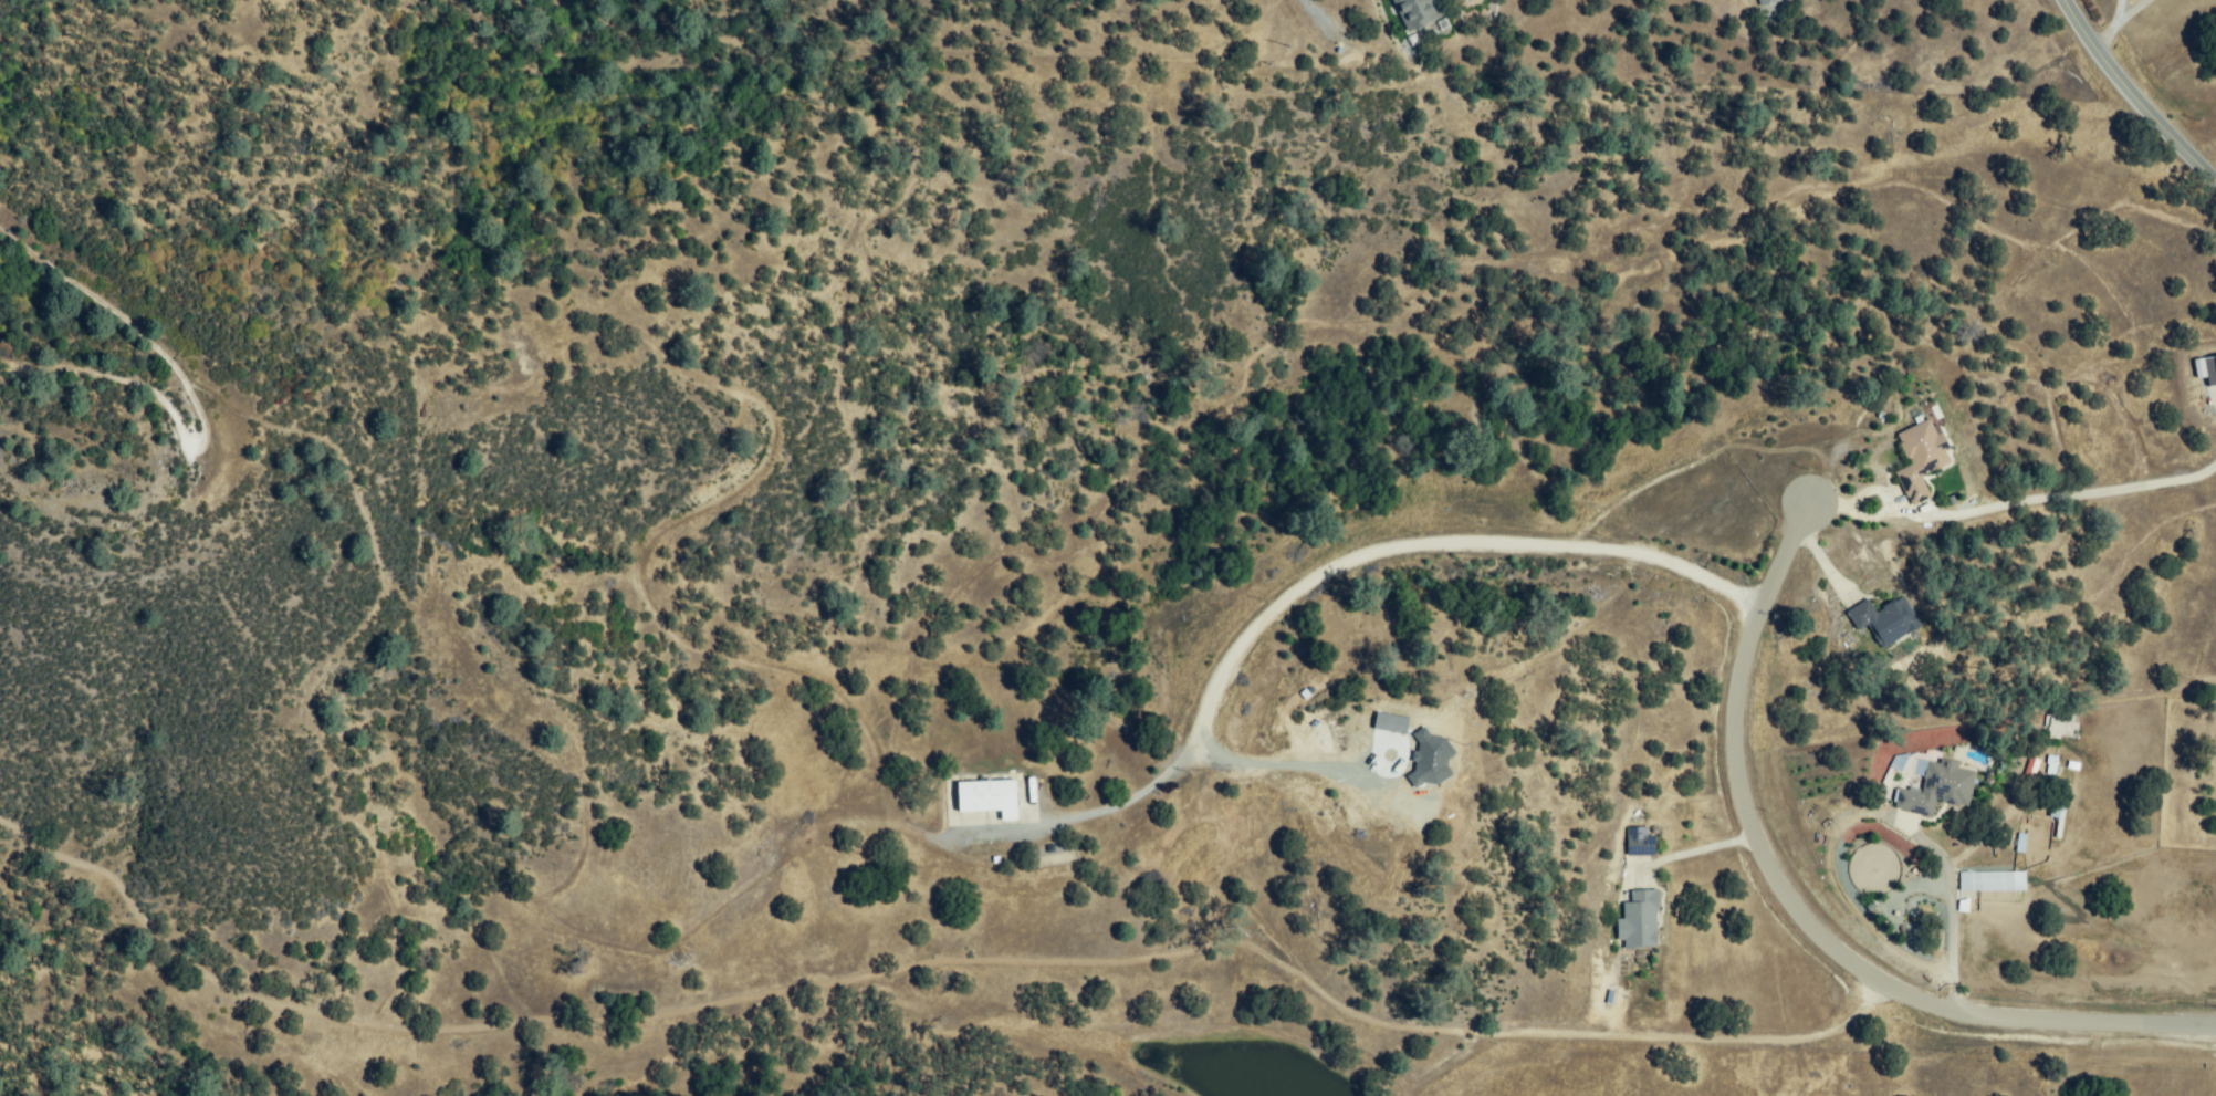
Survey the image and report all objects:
building: (1767, 1)
road: (2115, 9)
building: (1418, 12)
road: (2113, 20)
road: (2132, 96)
building: (2212, 372)
building: (1922, 459)
road: (2010, 504)
road: (1356, 559)
building: (1886, 622)
building: (2050, 764)
building: (2030, 768)
building: (1938, 790)
building: (989, 798)
road: (1390, 802)
road: (1689, 853)
building: (1995, 884)
road: (1802, 914)
road: (1954, 916)
building: (1640, 920)

